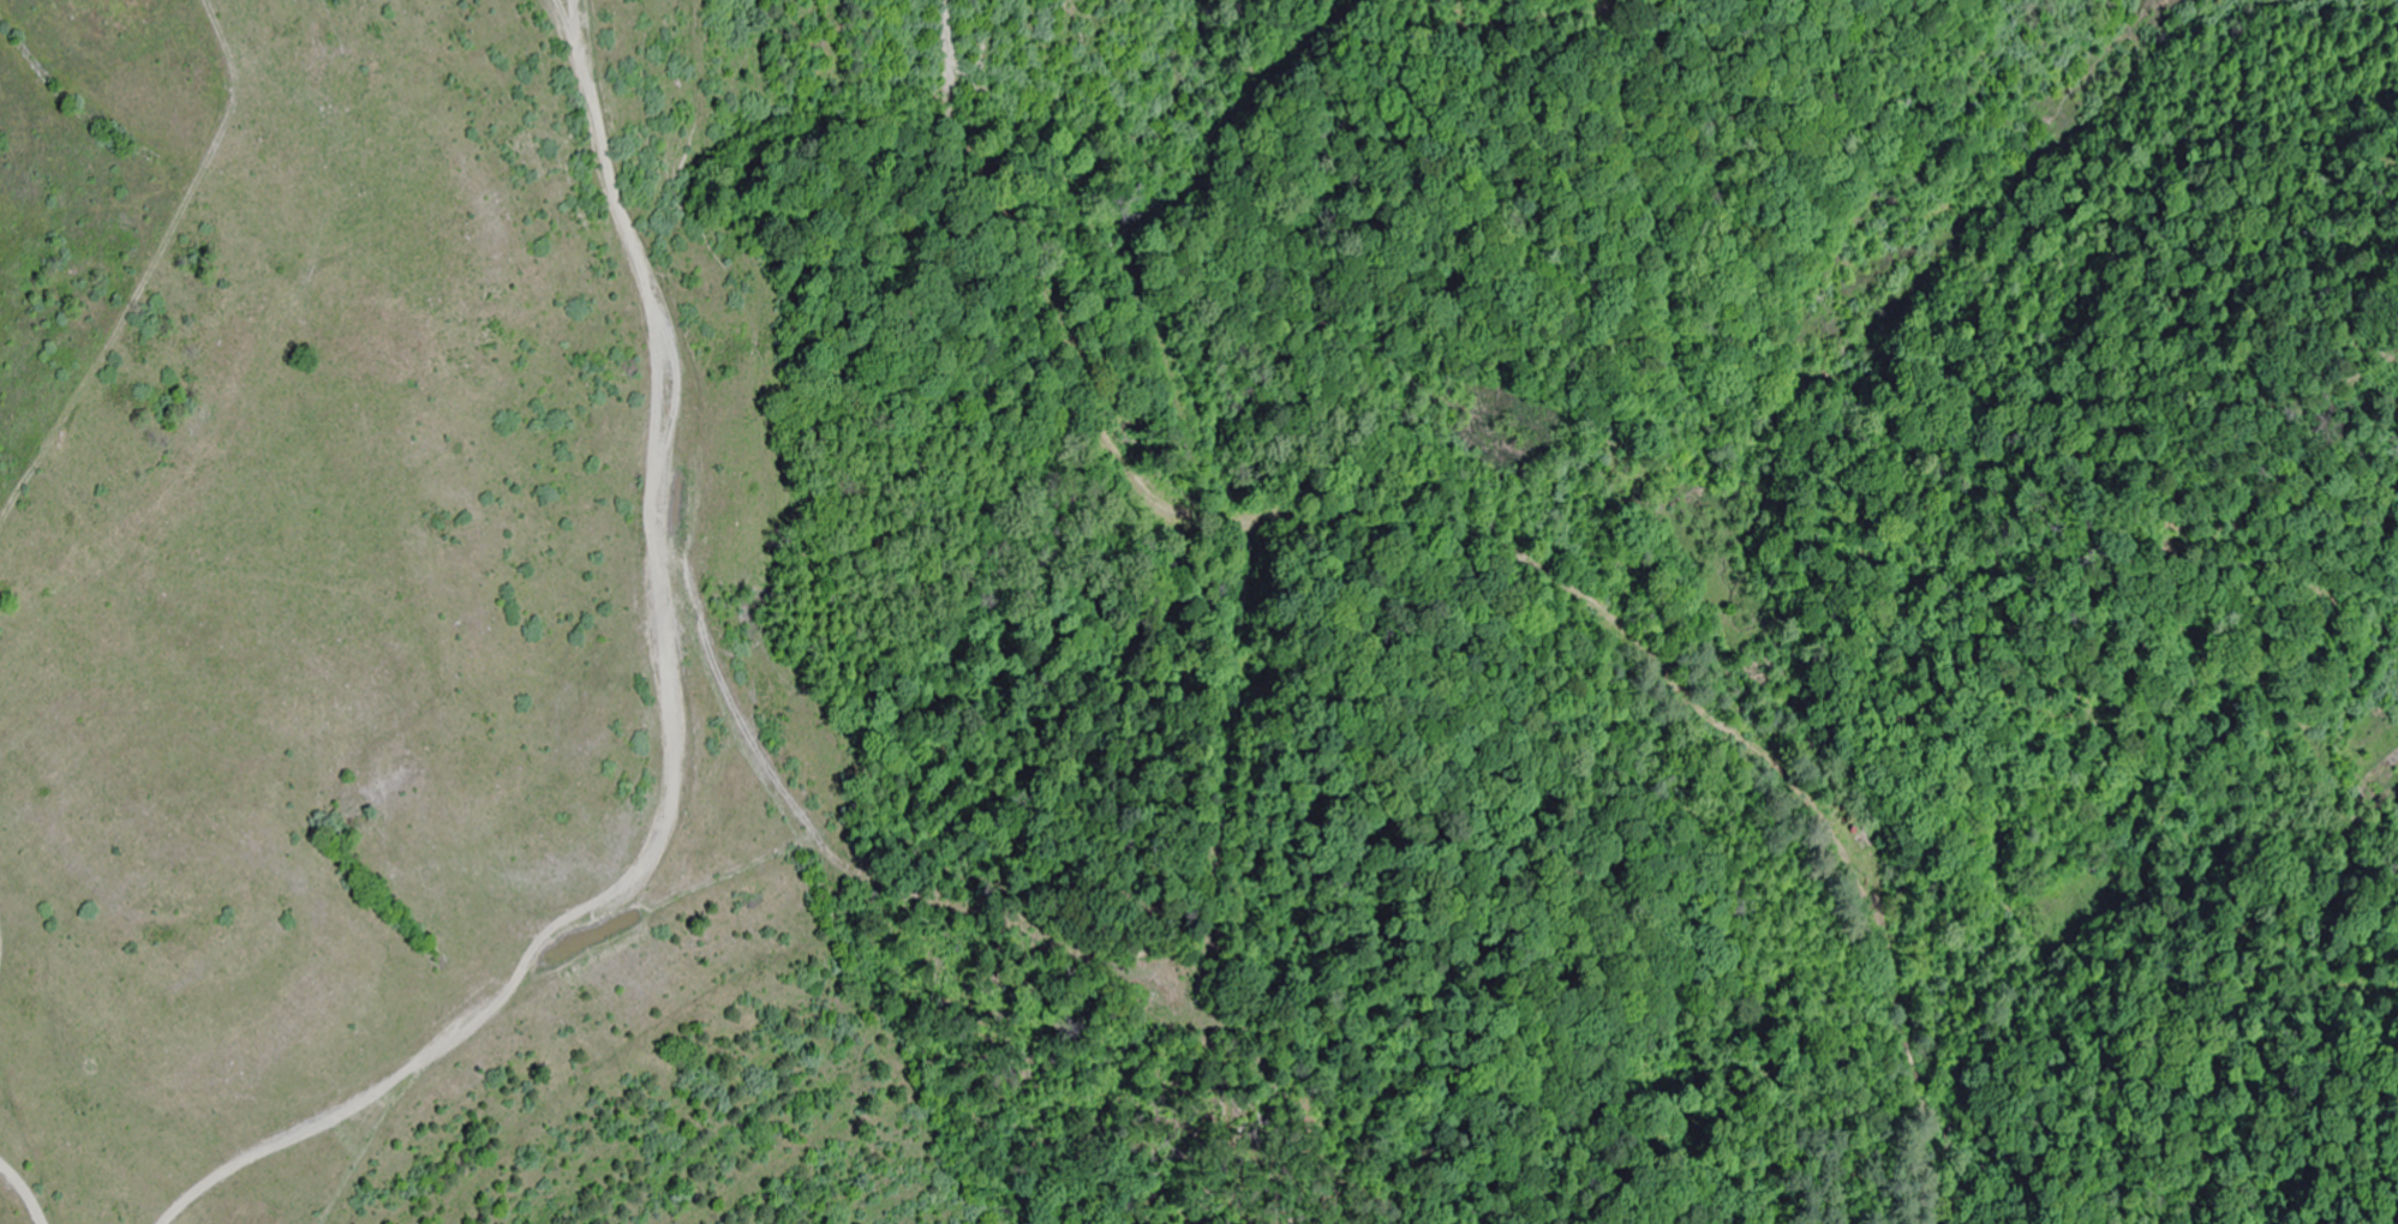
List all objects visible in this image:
road: (1959, 1196)

